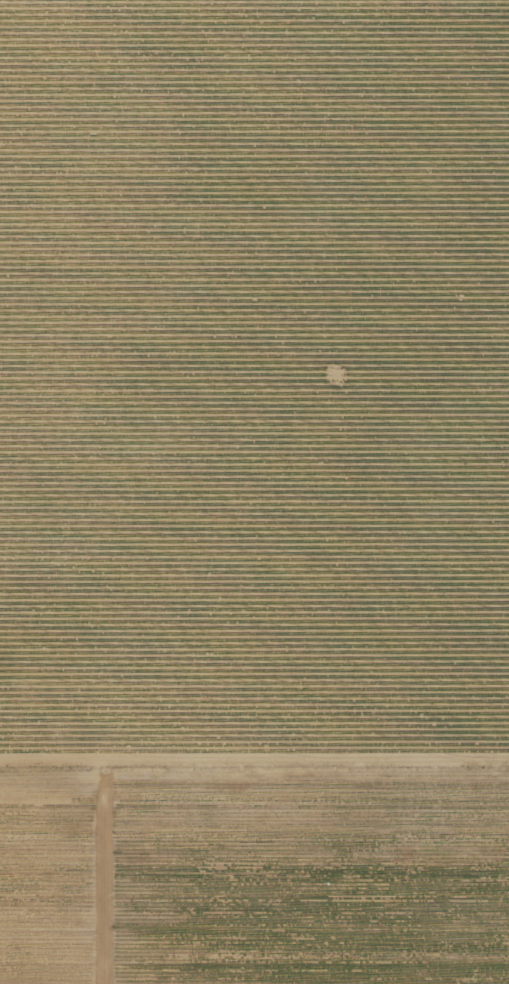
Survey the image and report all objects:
road: (106, 832)

